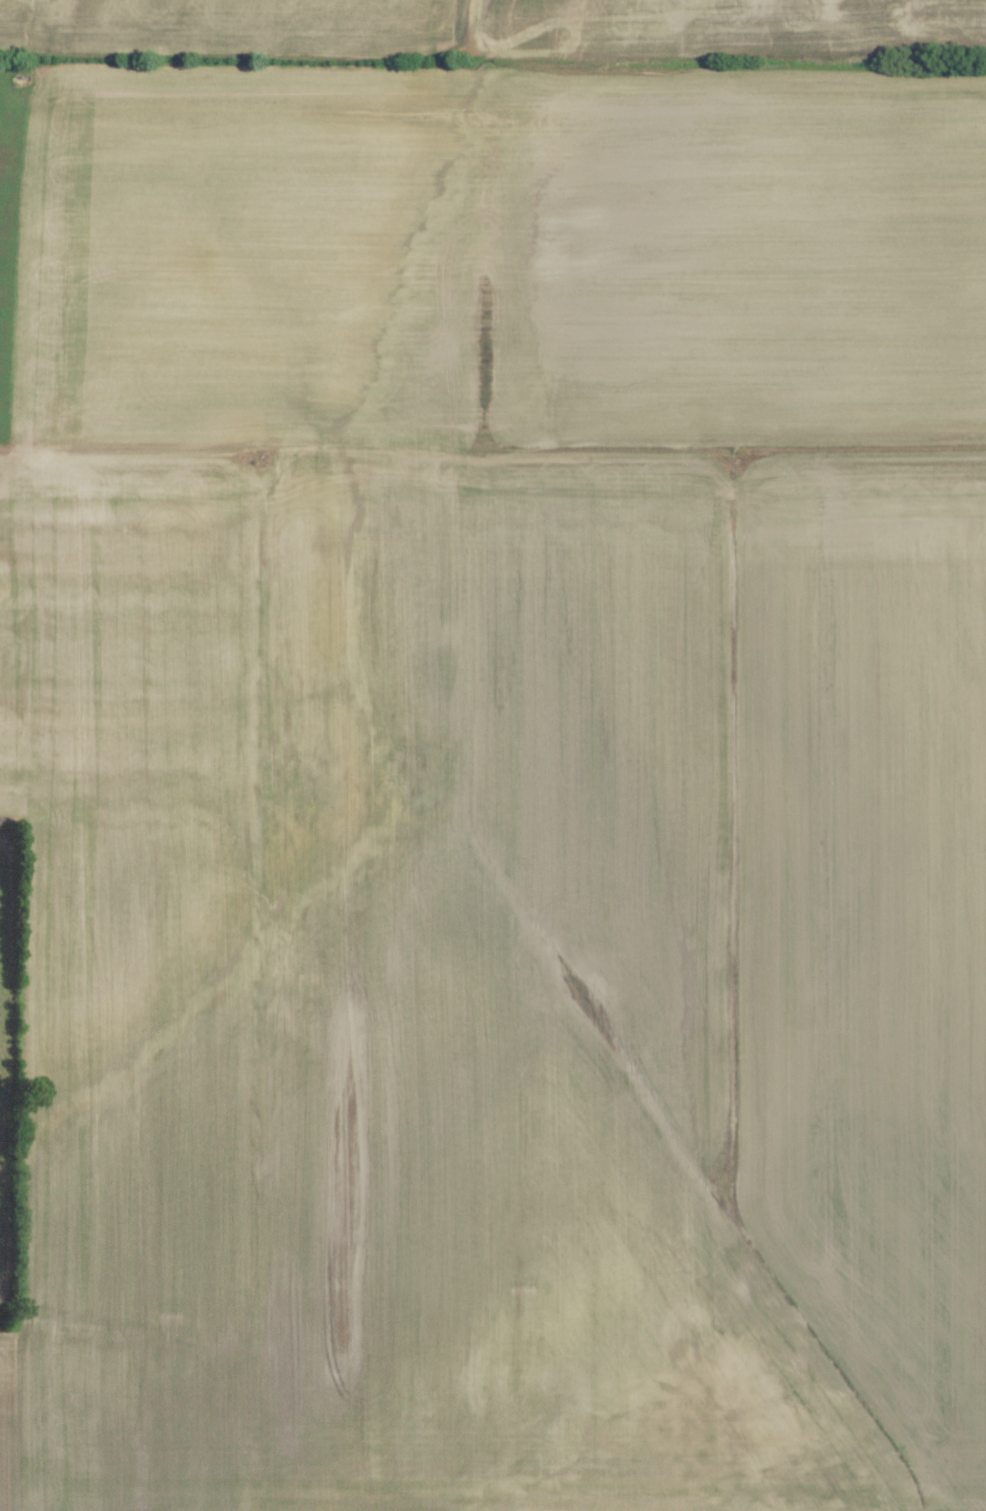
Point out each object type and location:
road: (261, 457)

